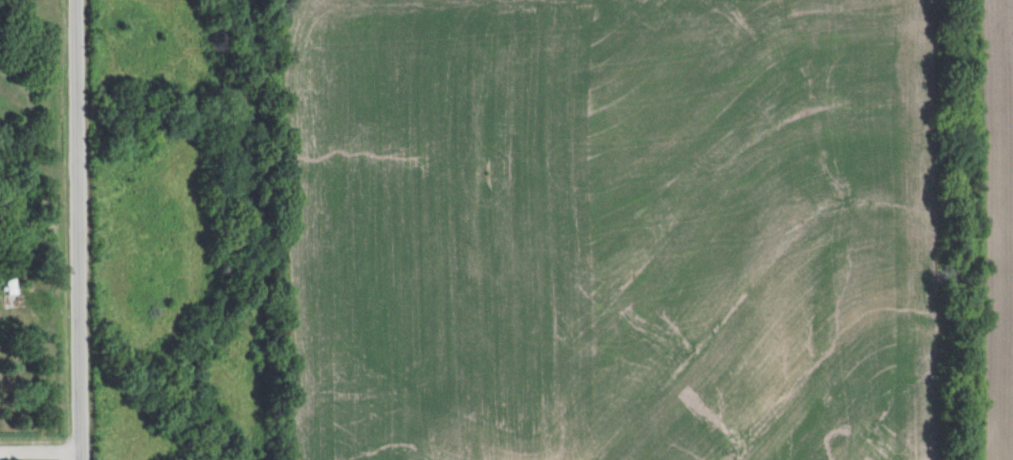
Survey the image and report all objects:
road: (79, 230)
building: (12, 292)
road: (41, 450)

